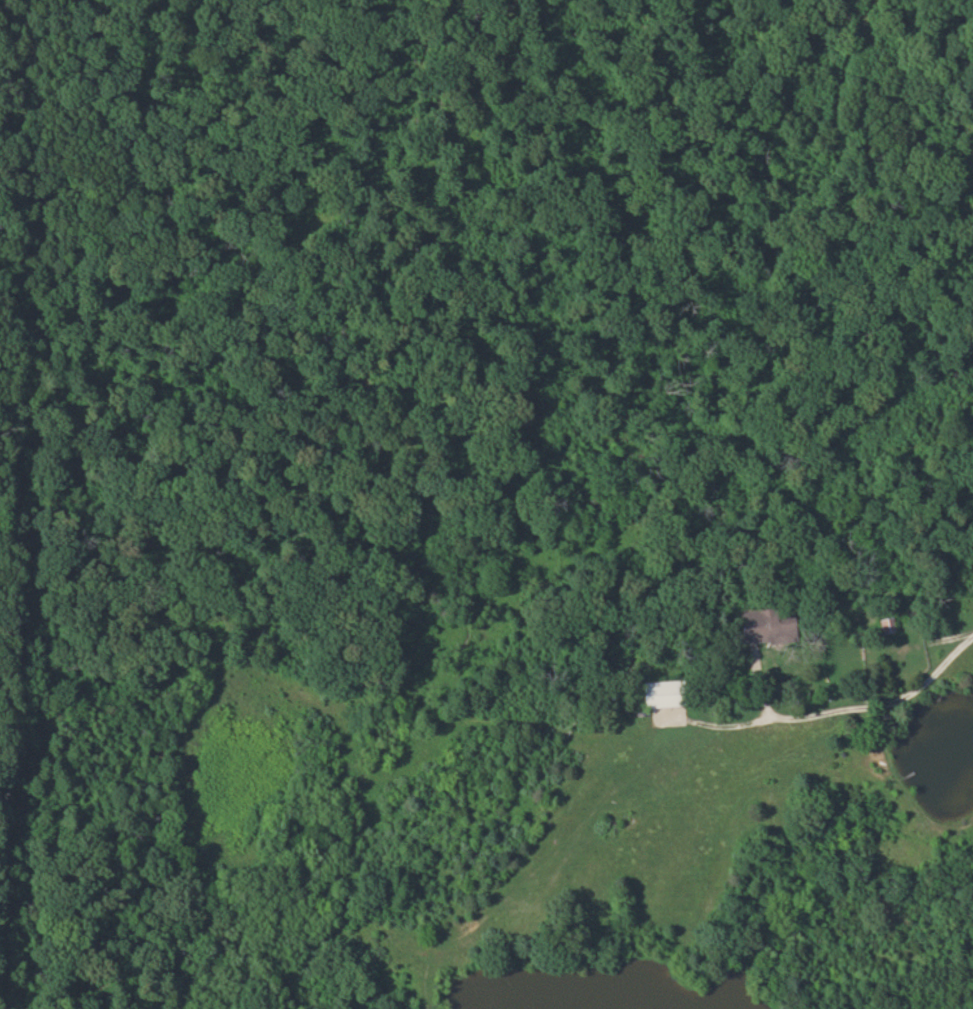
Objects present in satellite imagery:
building: (762, 625)
building: (885, 626)
building: (656, 694)
road: (849, 700)

